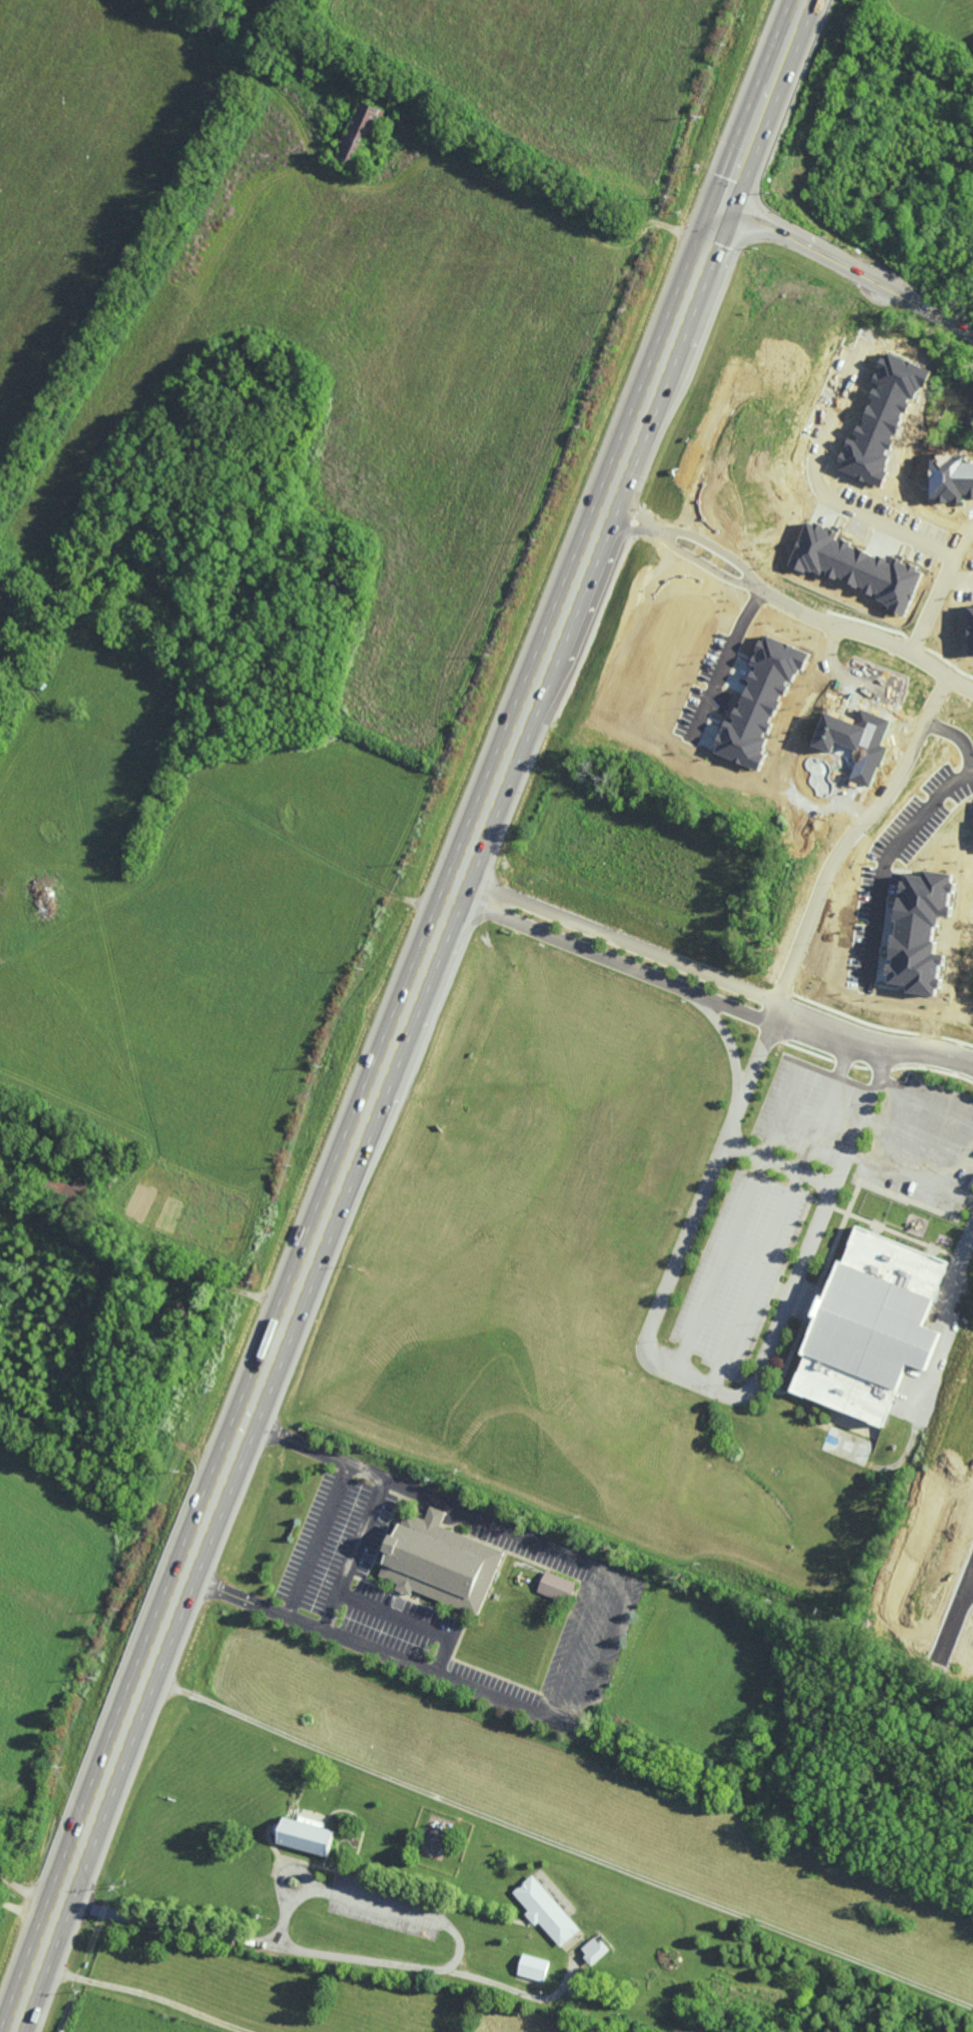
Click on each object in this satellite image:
road: (765, 102)
building: (360, 132)
road: (561, 172)
traffic signals: (725, 204)
road: (849, 268)
road: (859, 513)
road: (628, 520)
road: (712, 548)
road: (702, 565)
building: (856, 566)
road: (934, 585)
road: (868, 634)
road: (731, 645)
road: (844, 674)
building: (759, 702)
building: (845, 731)
road: (955, 736)
road: (851, 839)
road: (884, 853)
building: (921, 931)
road: (621, 939)
road: (612, 959)
road: (726, 1038)
road: (872, 1043)
road: (906, 1091)
road: (365, 1116)
road: (917, 1138)
road: (778, 1164)
road: (910, 1176)
building: (67, 1189)
road: (745, 1198)
road: (782, 1213)
road: (957, 1266)
building: (874, 1327)
road: (699, 1382)
road: (350, 1554)
building: (442, 1562)
road: (971, 1577)
building: (558, 1588)
road: (956, 1608)
road: (409, 1625)
road: (599, 1655)
building: (307, 1837)
road: (559, 1841)
road: (304, 1871)
road: (29, 1880)
road: (402, 1912)
building: (547, 1912)
road: (283, 1919)
building: (596, 1951)
road: (322, 1952)
building: (535, 1968)
road: (145, 1993)

